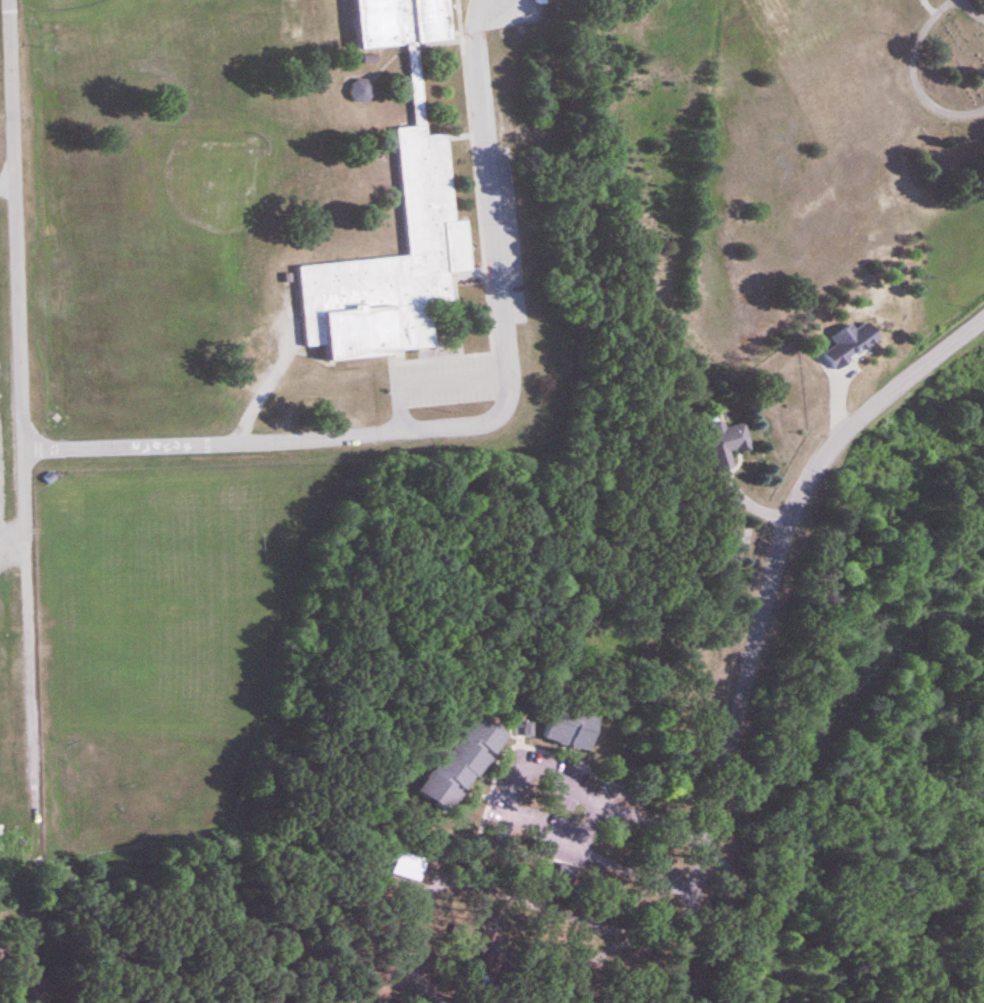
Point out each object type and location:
park: (70, 8)
road: (913, 73)
park: (768, 151)
building: (396, 222)
road: (18, 269)
building: (851, 344)
road: (471, 423)
building: (725, 444)
road: (761, 624)
building: (571, 728)
building: (463, 764)
road: (530, 772)
road: (654, 852)
building: (409, 867)
road: (759, 918)

